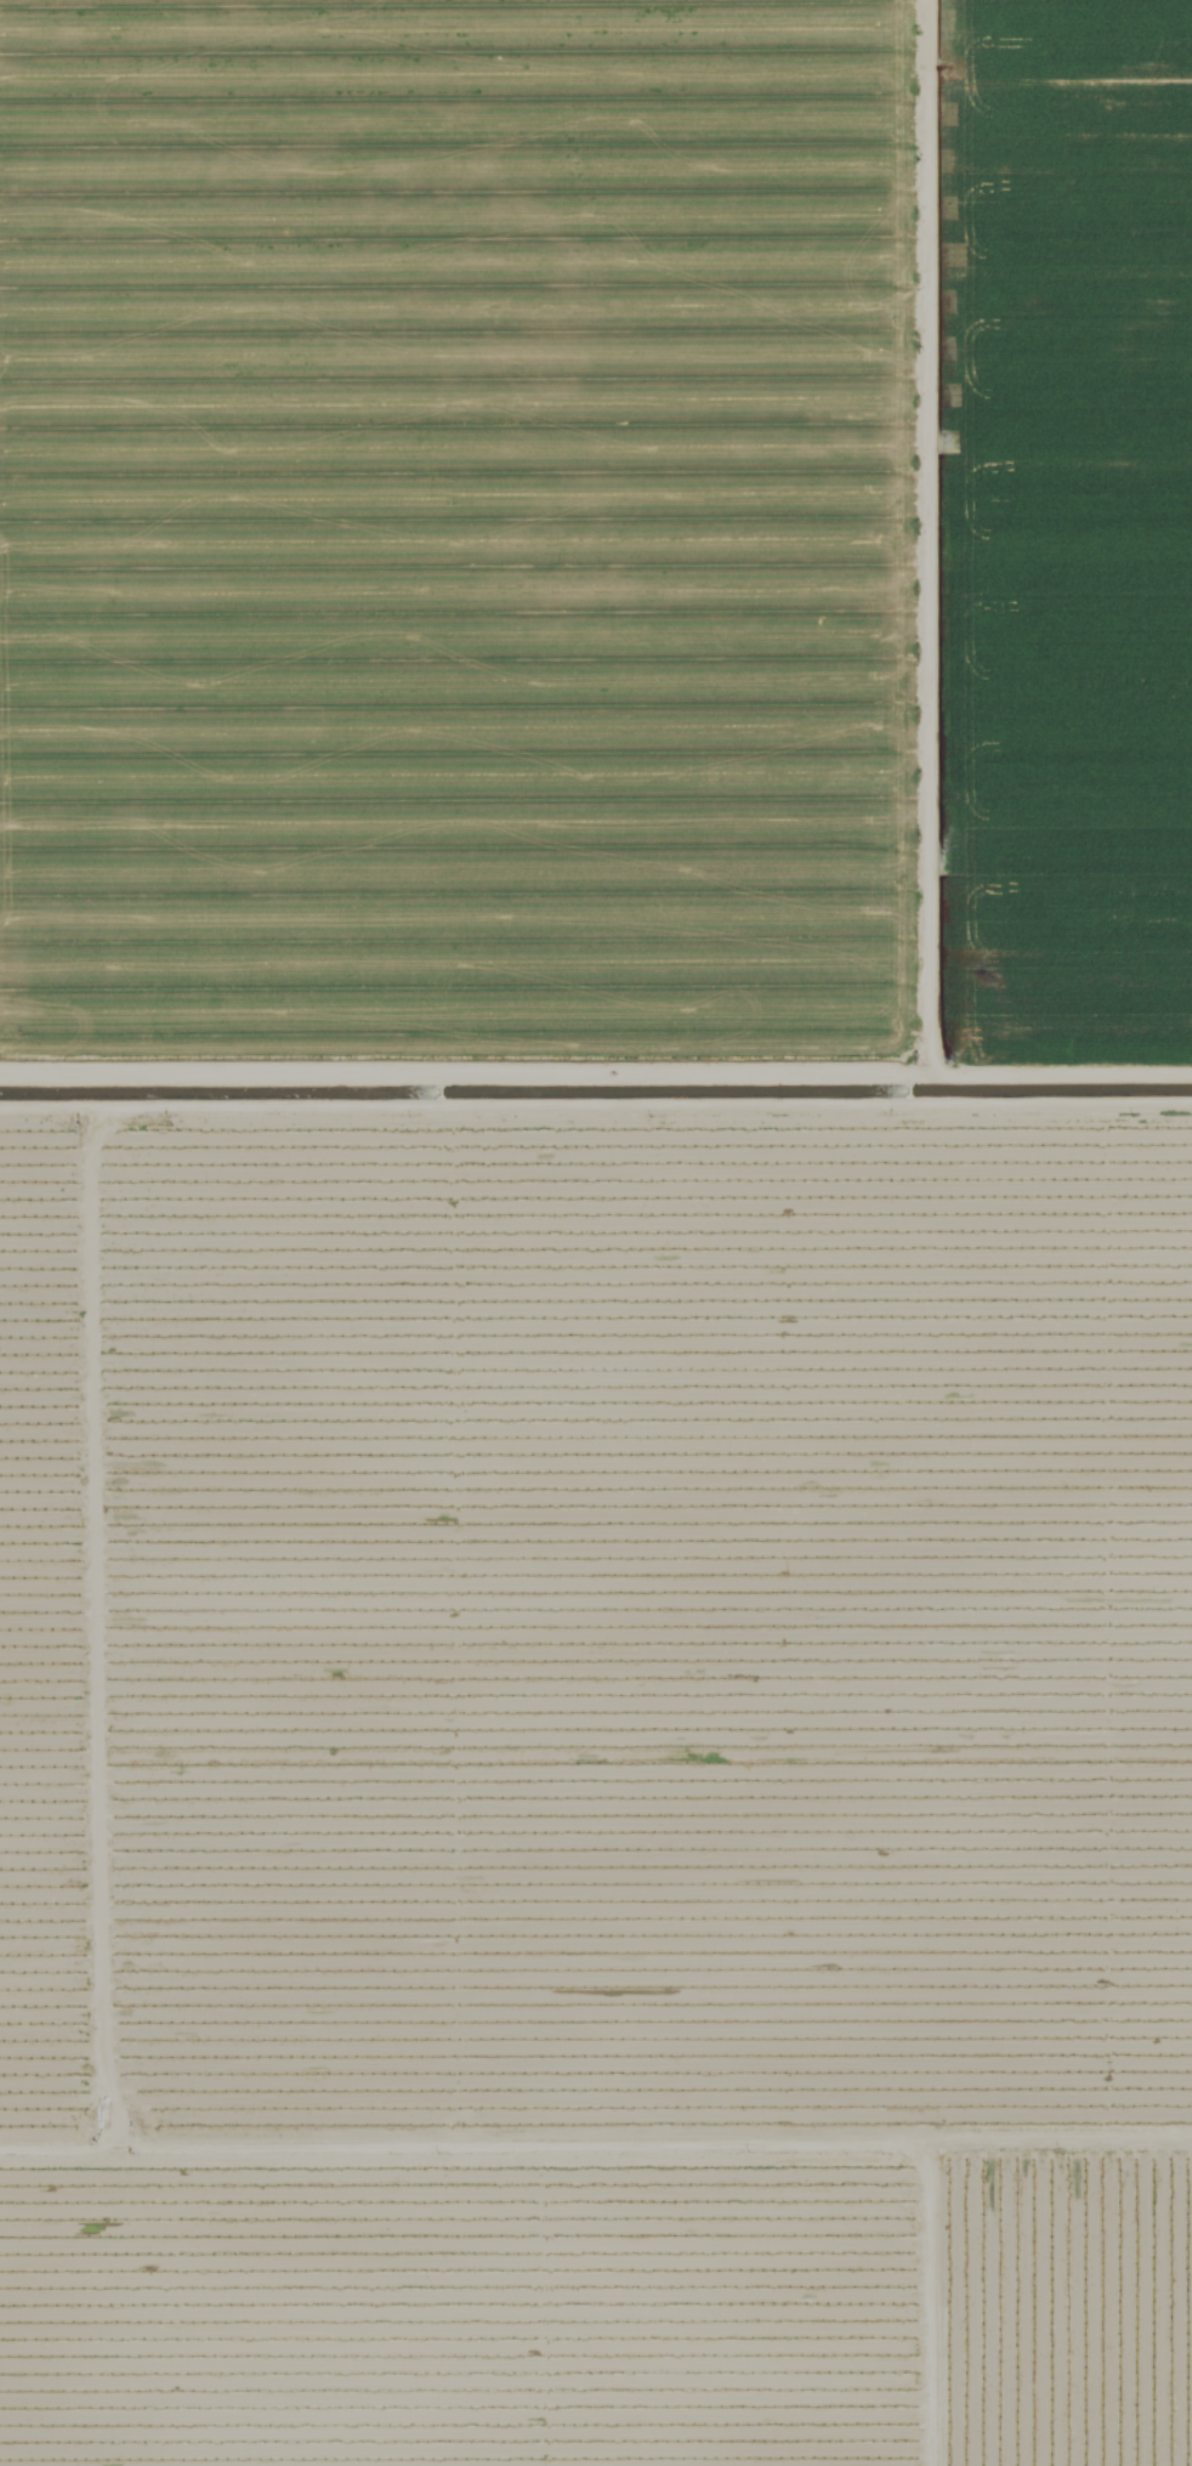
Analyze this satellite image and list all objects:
road: (596, 2143)

